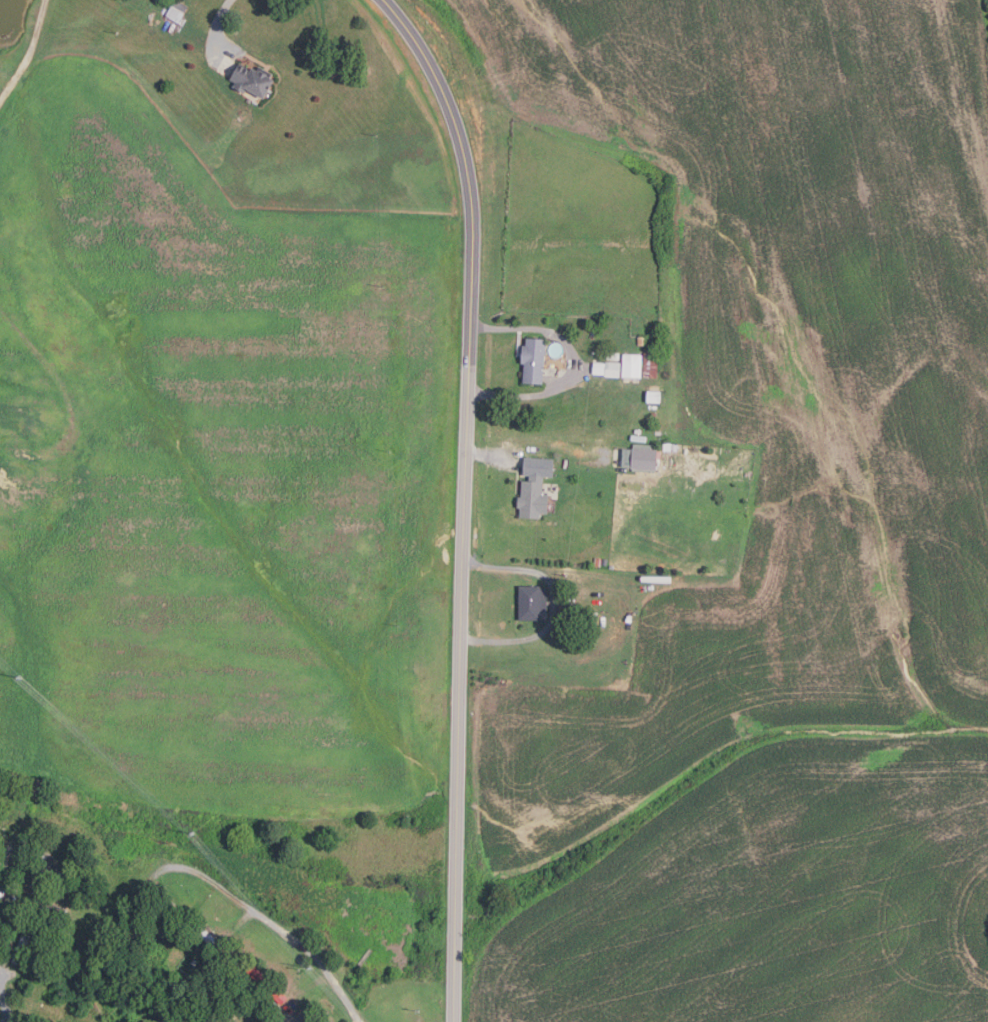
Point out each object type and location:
building: (176, 10)
road: (217, 20)
road: (29, 53)
building: (250, 79)
building: (593, 333)
building: (640, 340)
building: (612, 355)
building: (531, 360)
road: (571, 361)
building: (631, 365)
building: (650, 365)
building: (612, 369)
building: (653, 397)
building: (12, 414)
building: (669, 447)
road: (490, 455)
building: (639, 457)
building: (5, 474)
building: (533, 487)
road: (464, 499)
building: (597, 561)
building: (604, 561)
building: (530, 602)
road: (553, 605)
building: (564, 620)
building: (586, 621)
building: (593, 621)
power tower: (21, 679)
power tower: (194, 834)
building: (53, 873)
road: (7, 890)
building: (166, 902)
building: (43, 904)
road: (243, 919)
road: (275, 925)
building: (208, 938)
building: (23, 944)
power tower: (311, 968)
road: (6, 977)
building: (267, 985)
road: (4, 1002)
building: (222, 1011)
road: (287, 1018)
road: (6, 1020)
road: (14, 1021)

